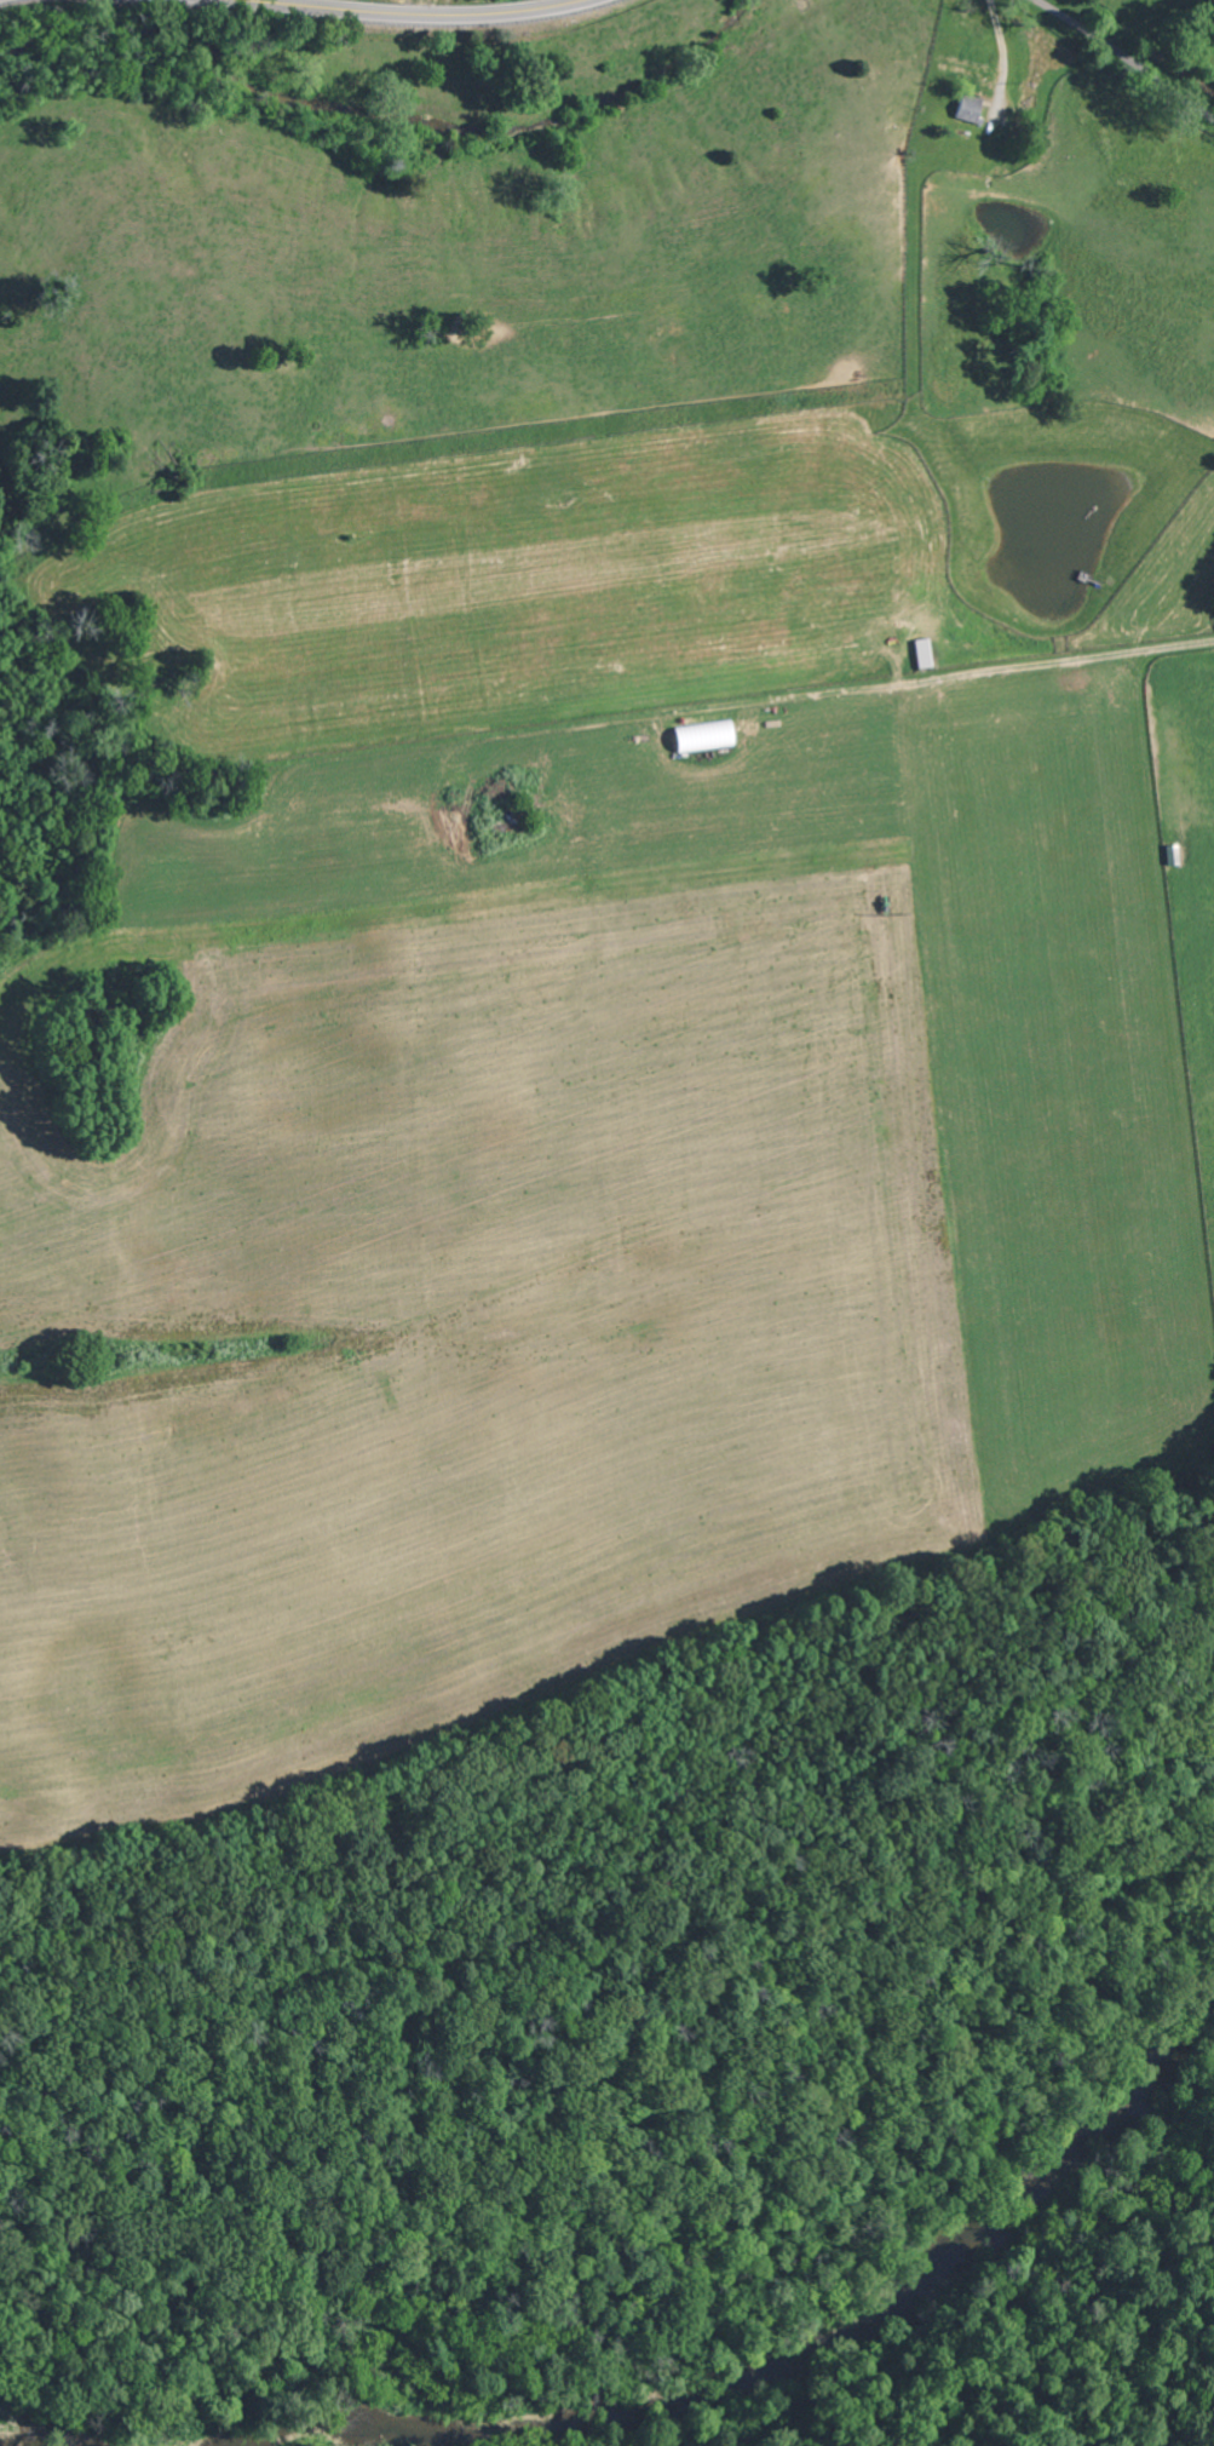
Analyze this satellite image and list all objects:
road: (420, 11)
road: (1007, 50)
road: (1124, 57)
building: (965, 107)

